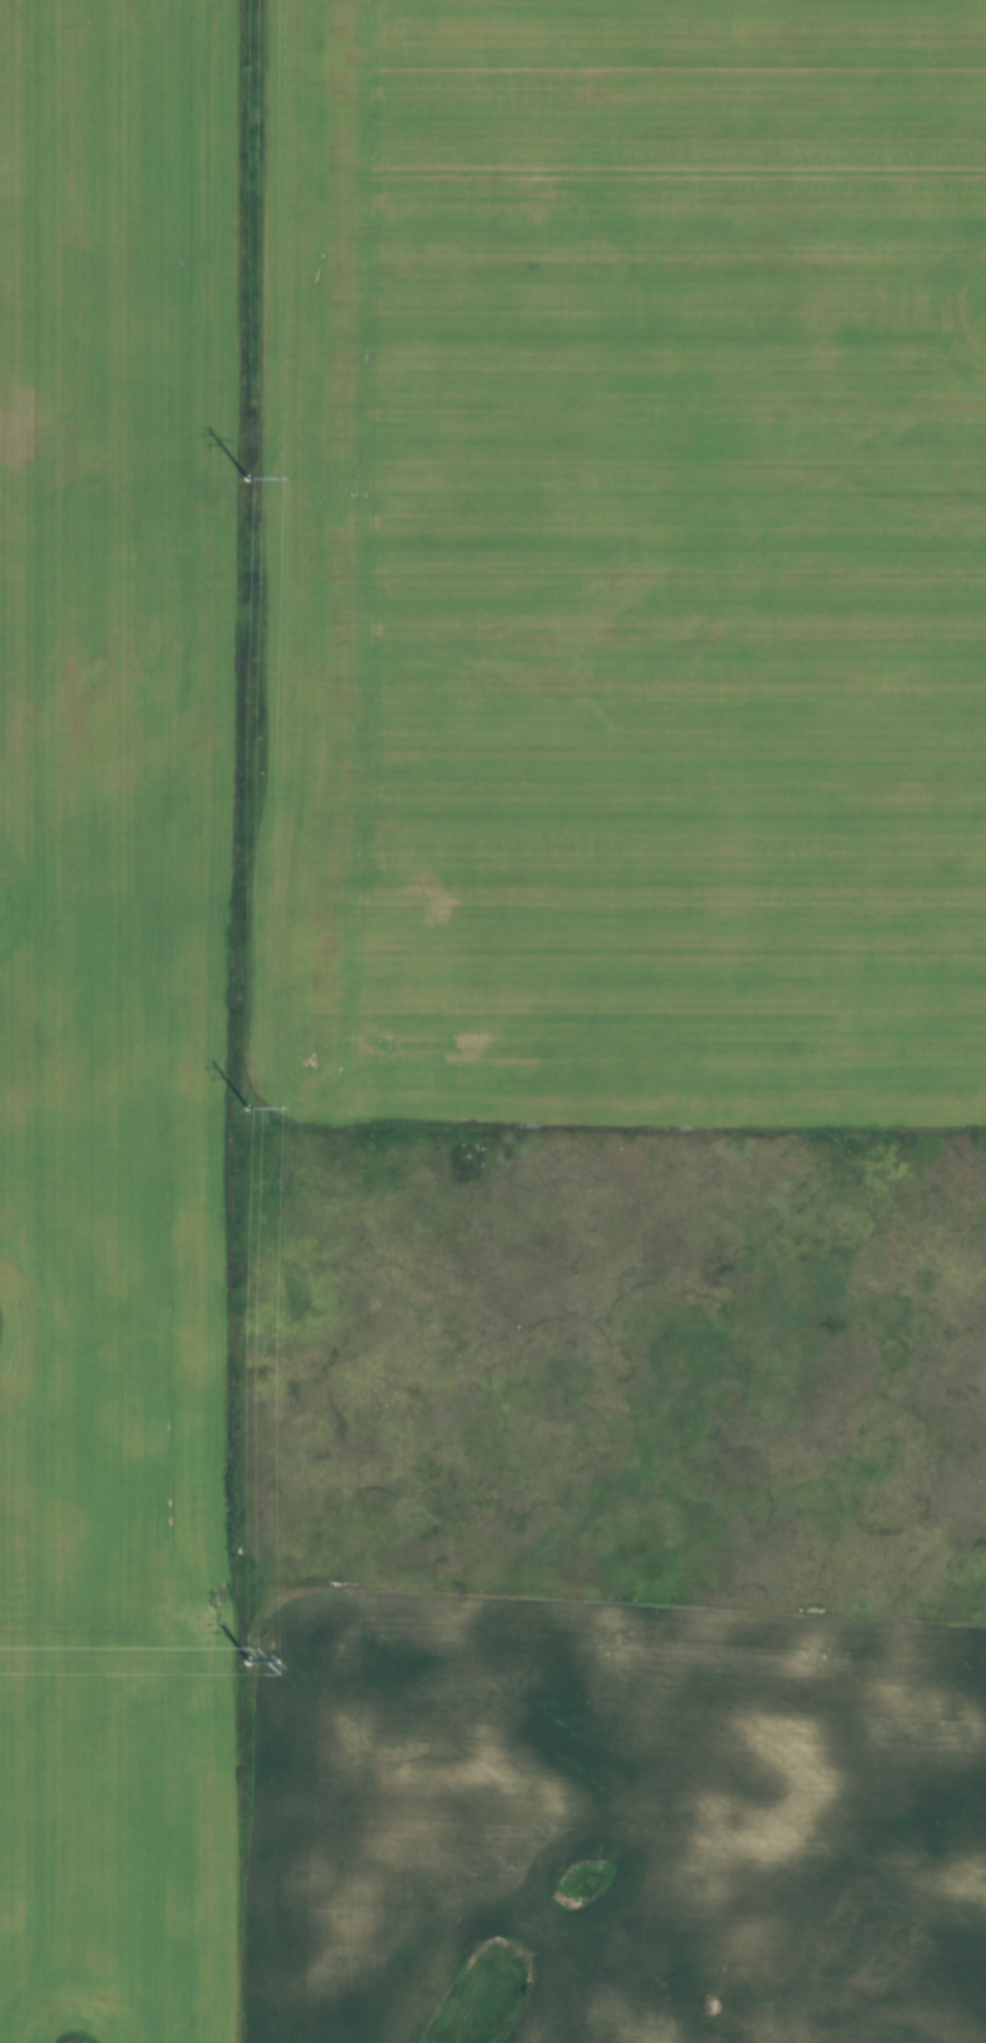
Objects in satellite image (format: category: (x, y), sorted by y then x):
power tower: (246, 476)
power tower: (246, 1106)
power tower: (247, 1659)

